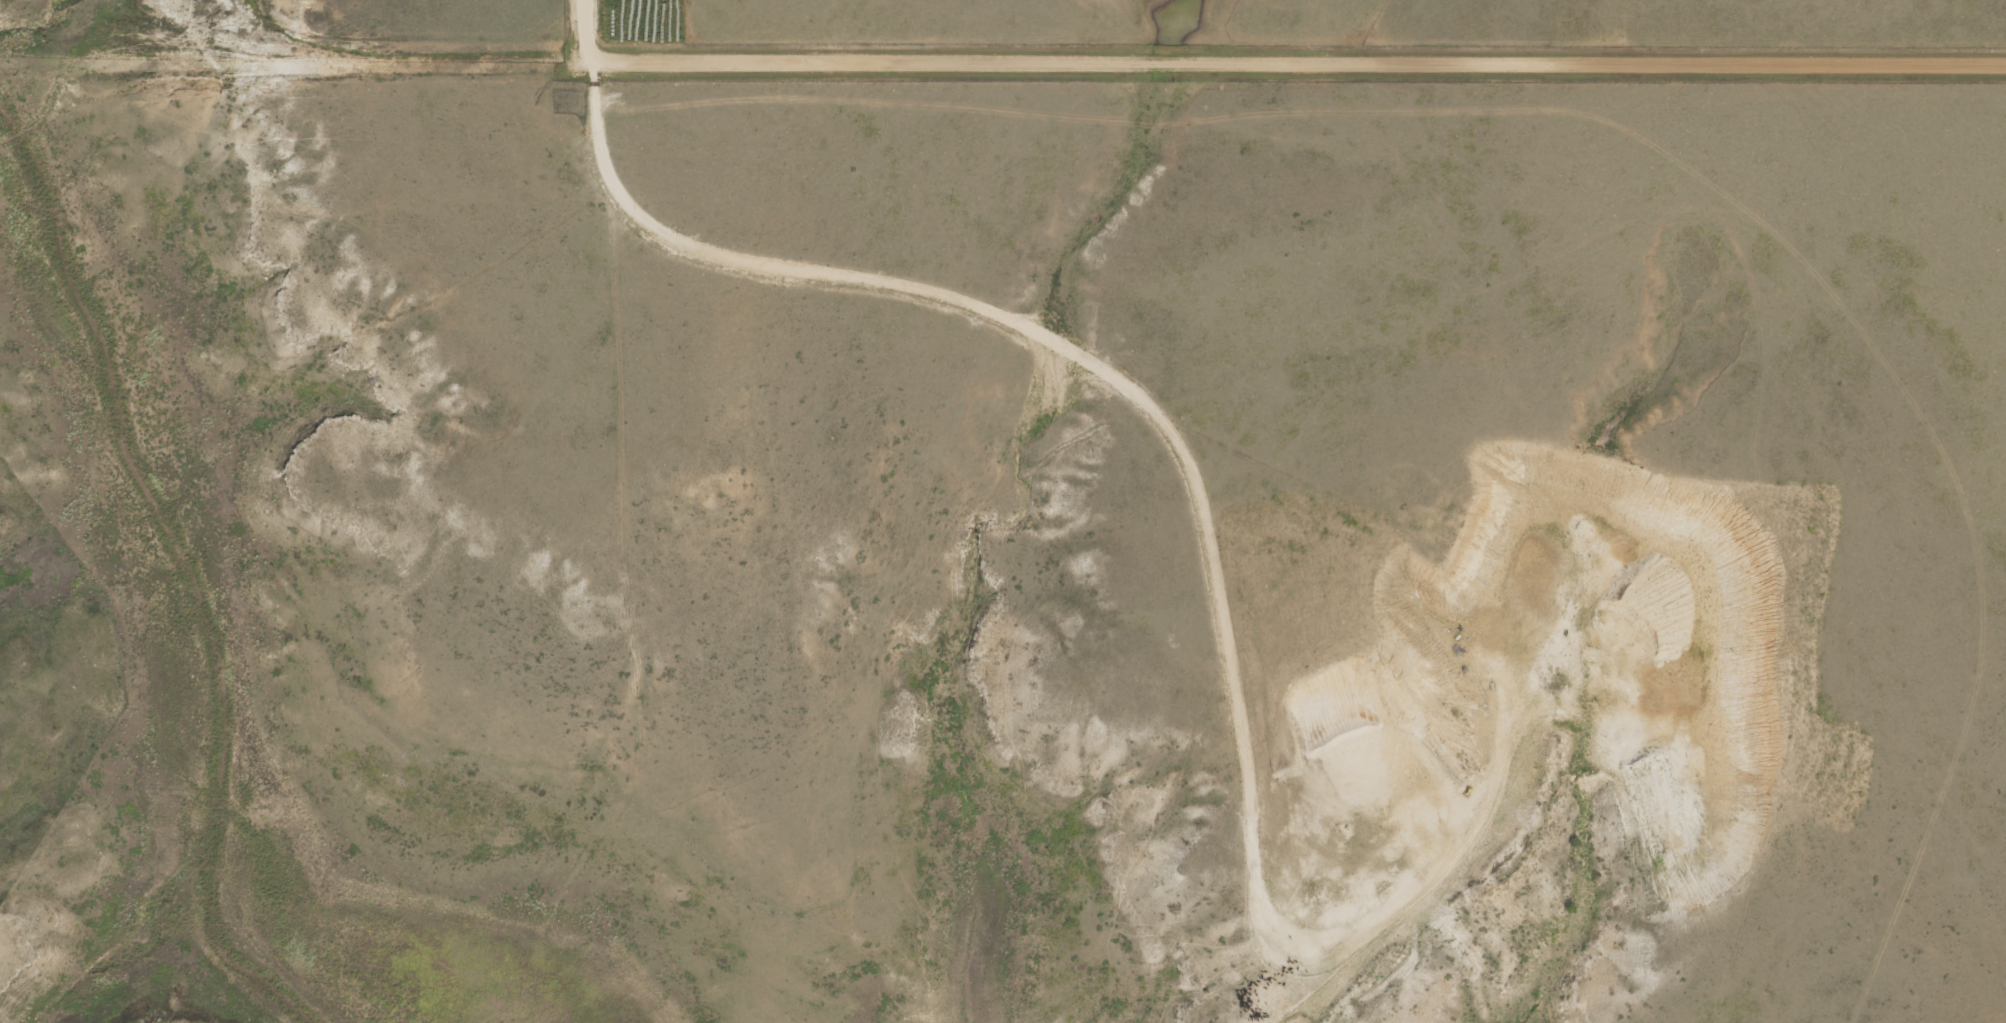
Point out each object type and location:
road: (594, 29)
road: (1002, 60)

